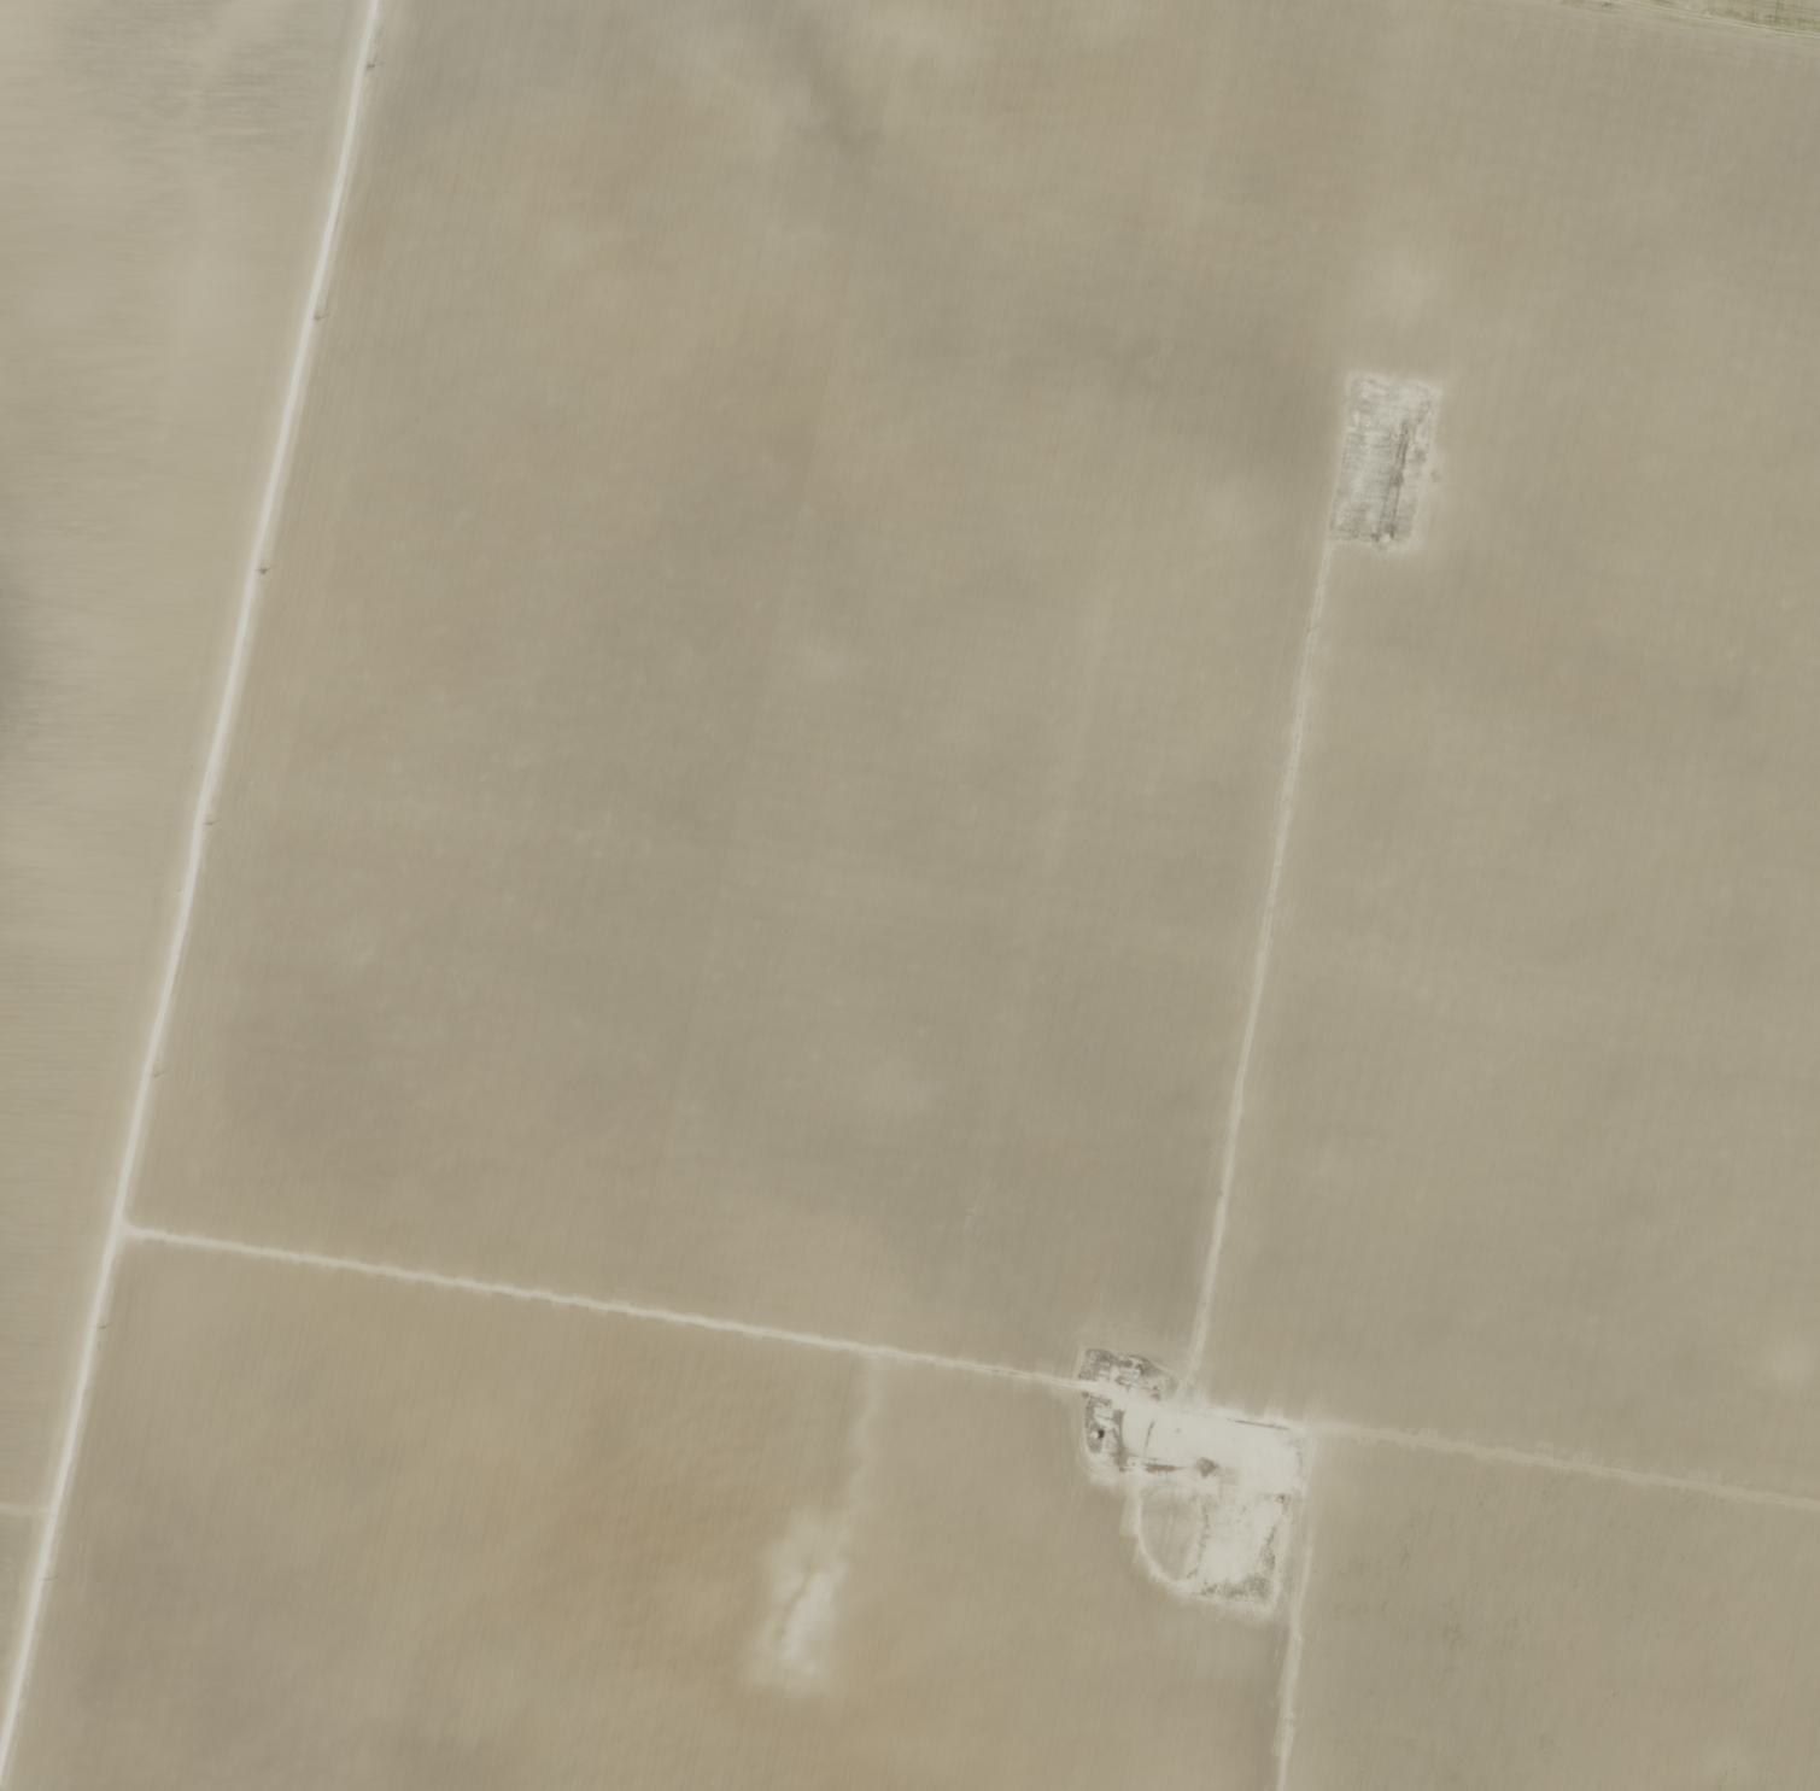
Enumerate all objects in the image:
road: (1670, 25)

